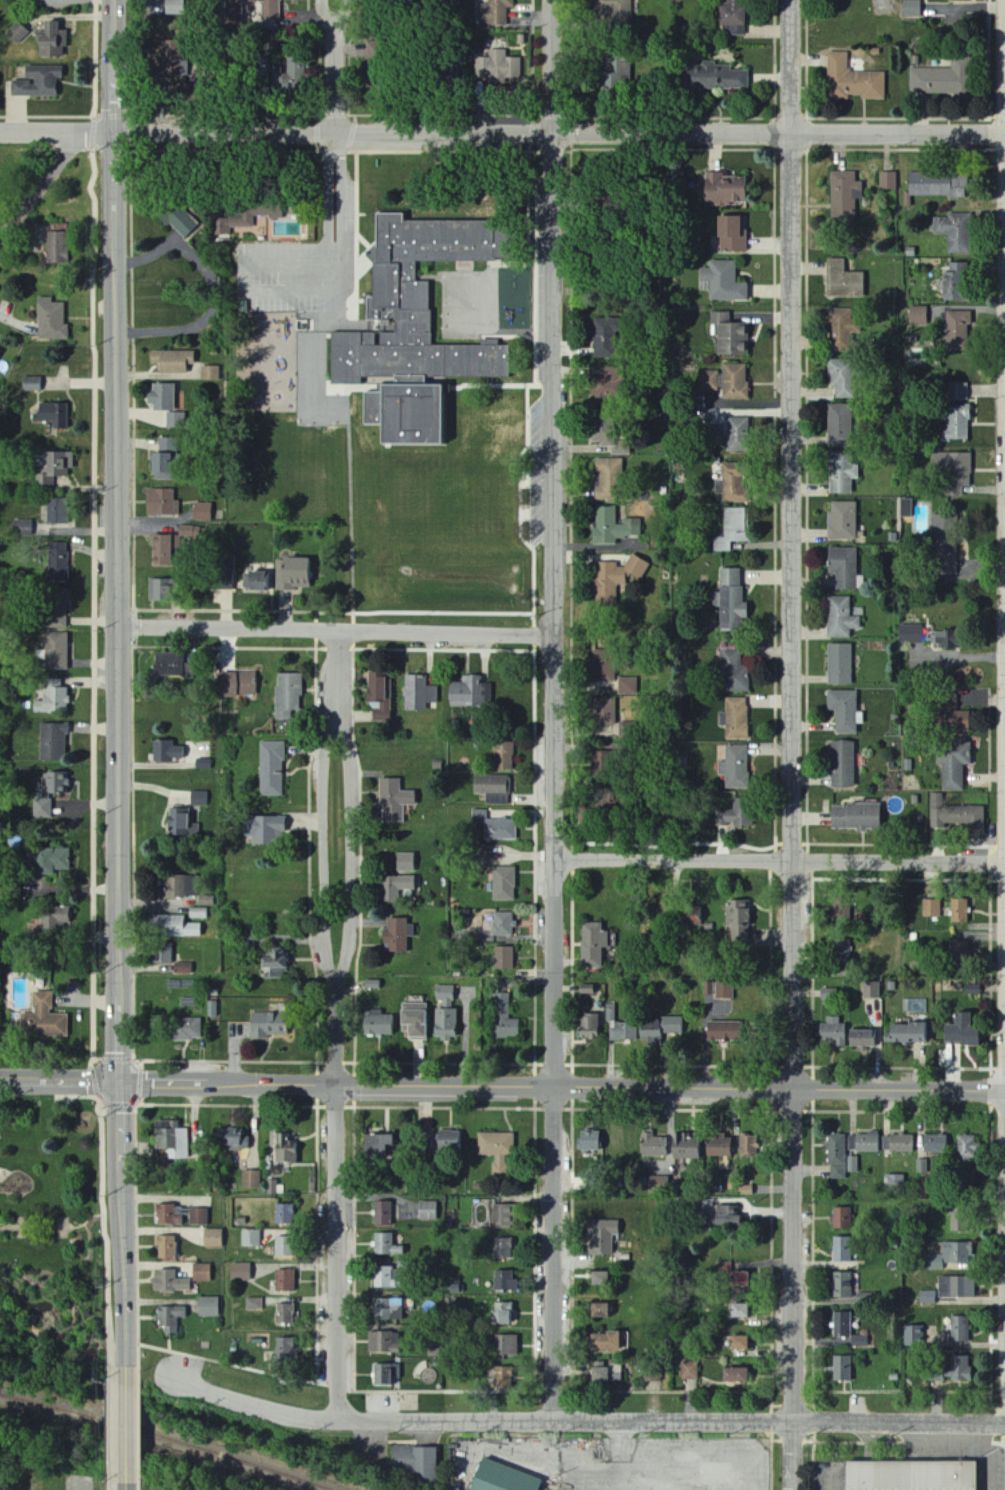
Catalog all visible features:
building: (911, 9)
building: (270, 10)
building: (621, 12)
building: (495, 13)
road: (324, 14)
road: (341, 14)
road: (115, 15)
building: (731, 20)
building: (18, 33)
building: (53, 40)
building: (500, 66)
building: (617, 73)
building: (297, 76)
building: (718, 77)
road: (333, 80)
building: (943, 80)
building: (853, 81)
building: (39, 82)
road: (116, 132)
road: (502, 133)
building: (889, 182)
building: (938, 185)
road: (40, 189)
building: (724, 190)
road: (326, 195)
road: (343, 196)
building: (844, 196)
building: (249, 214)
building: (179, 220)
building: (730, 233)
building: (956, 233)
building: (54, 246)
building: (843, 280)
building: (723, 281)
building: (955, 282)
road: (248, 287)
road: (217, 289)
building: (425, 303)
building: (918, 316)
building: (51, 319)
building: (957, 328)
building: (729, 335)
building: (604, 337)
building: (172, 360)
building: (211, 373)
building: (838, 377)
building: (735, 382)
building: (604, 383)
building: (33, 384)
building: (958, 391)
building: (161, 396)
building: (53, 414)
building: (174, 419)
building: (839, 423)
building: (957, 423)
building: (737, 434)
building: (611, 442)
building: (168, 444)
building: (160, 465)
building: (55, 466)
building: (841, 476)
building: (607, 479)
building: (733, 482)
building: (162, 502)
building: (905, 508)
building: (58, 511)
building: (203, 512)
building: (843, 521)
building: (611, 526)
building: (24, 527)
building: (731, 529)
building: (189, 532)
building: (161, 549)
building: (948, 559)
building: (58, 562)
building: (843, 567)
building: (225, 574)
building: (294, 574)
building: (614, 578)
building: (255, 580)
building: (158, 589)
building: (731, 598)
road: (120, 607)
building: (56, 609)
building: (841, 618)
road: (336, 631)
building: (912, 634)
building: (944, 639)
building: (57, 651)
building: (169, 664)
building: (839, 664)
building: (603, 670)
building: (733, 670)
building: (247, 683)
road: (96, 684)
building: (225, 685)
building: (628, 686)
building: (470, 692)
building: (420, 693)
building: (287, 695)
building: (380, 695)
building: (54, 699)
road: (552, 709)
building: (845, 710)
building: (605, 712)
building: (735, 718)
building: (54, 741)
road: (790, 745)
building: (168, 751)
building: (503, 756)
building: (204, 764)
building: (843, 764)
building: (954, 764)
building: (736, 767)
building: (272, 768)
building: (55, 784)
building: (493, 788)
building: (200, 798)
building: (394, 801)
building: (43, 809)
building: (855, 816)
building: (956, 816)
building: (736, 818)
building: (181, 823)
building: (495, 826)
building: (267, 829)
road: (779, 859)
building: (51, 860)
building: (404, 862)
building: (503, 884)
building: (178, 886)
building: (394, 887)
building: (931, 908)
building: (844, 910)
building: (958, 911)
building: (198, 913)
building: (54, 918)
building: (694, 918)
building: (738, 922)
building: (503, 925)
building: (173, 926)
building: (397, 935)
building: (592, 944)
building: (960, 950)
building: (843, 952)
building: (163, 953)
building: (503, 958)
building: (277, 962)
building: (183, 967)
building: (586, 989)
building: (972, 989)
building: (872, 990)
building: (724, 991)
building: (444, 994)
building: (213, 1009)
building: (504, 1018)
building: (42, 1019)
building: (412, 1019)
building: (378, 1024)
building: (445, 1024)
building: (268, 1025)
building: (619, 1026)
road: (339, 1027)
building: (588, 1028)
building: (185, 1029)
building: (659, 1029)
building: (719, 1031)
building: (961, 1031)
building: (831, 1032)
building: (906, 1033)
building: (862, 1038)
road: (119, 1082)
traffic signals: (119, 1083)
road: (502, 1085)
building: (233, 1138)
building: (172, 1140)
building: (448, 1140)
building: (591, 1140)
building: (863, 1143)
building: (898, 1144)
building: (935, 1144)
building: (374, 1145)
building: (748, 1145)
building: (718, 1146)
building: (654, 1147)
building: (684, 1148)
building: (285, 1149)
building: (967, 1149)
building: (497, 1152)
building: (837, 1157)
building: (853, 1164)
building: (252, 1180)
building: (895, 1180)
building: (657, 1183)
building: (745, 1190)
building: (428, 1211)
building: (284, 1214)
building: (383, 1214)
building: (170, 1215)
building: (200, 1216)
building: (500, 1216)
building: (722, 1216)
building: (841, 1218)
building: (602, 1237)
building: (252, 1238)
building: (214, 1239)
building: (283, 1243)
park: (54, 1244)
building: (385, 1245)
building: (166, 1247)
building: (503, 1248)
building: (842, 1250)
building: (949, 1255)
building: (242, 1271)
building: (202, 1273)
road: (122, 1275)
building: (731, 1276)
building: (383, 1277)
building: (597, 1279)
building: (285, 1281)
building: (504, 1281)
building: (170, 1282)
building: (843, 1284)
building: (955, 1288)
building: (927, 1297)
building: (256, 1304)
building: (210, 1307)
building: (388, 1309)
building: (597, 1311)
building: (737, 1311)
building: (285, 1314)
building: (504, 1314)
building: (172, 1317)
building: (841, 1325)
building: (959, 1329)
building: (912, 1336)
building: (860, 1341)
building: (381, 1342)
building: (603, 1342)
building: (737, 1343)
building: (505, 1346)
building: (286, 1352)
building: (841, 1369)
building: (954, 1369)
building: (689, 1371)
building: (598, 1372)
building: (733, 1375)
building: (501, 1377)
building: (652, 1378)
road: (584, 1418)
road: (115, 1425)
road: (124, 1425)
railway: (168, 1436)
road: (619, 1454)
road: (992, 1455)
building: (412, 1460)
building: (908, 1476)
building: (502, 1478)
road: (683, 1479)
road: (114, 1486)
road: (125, 1486)

